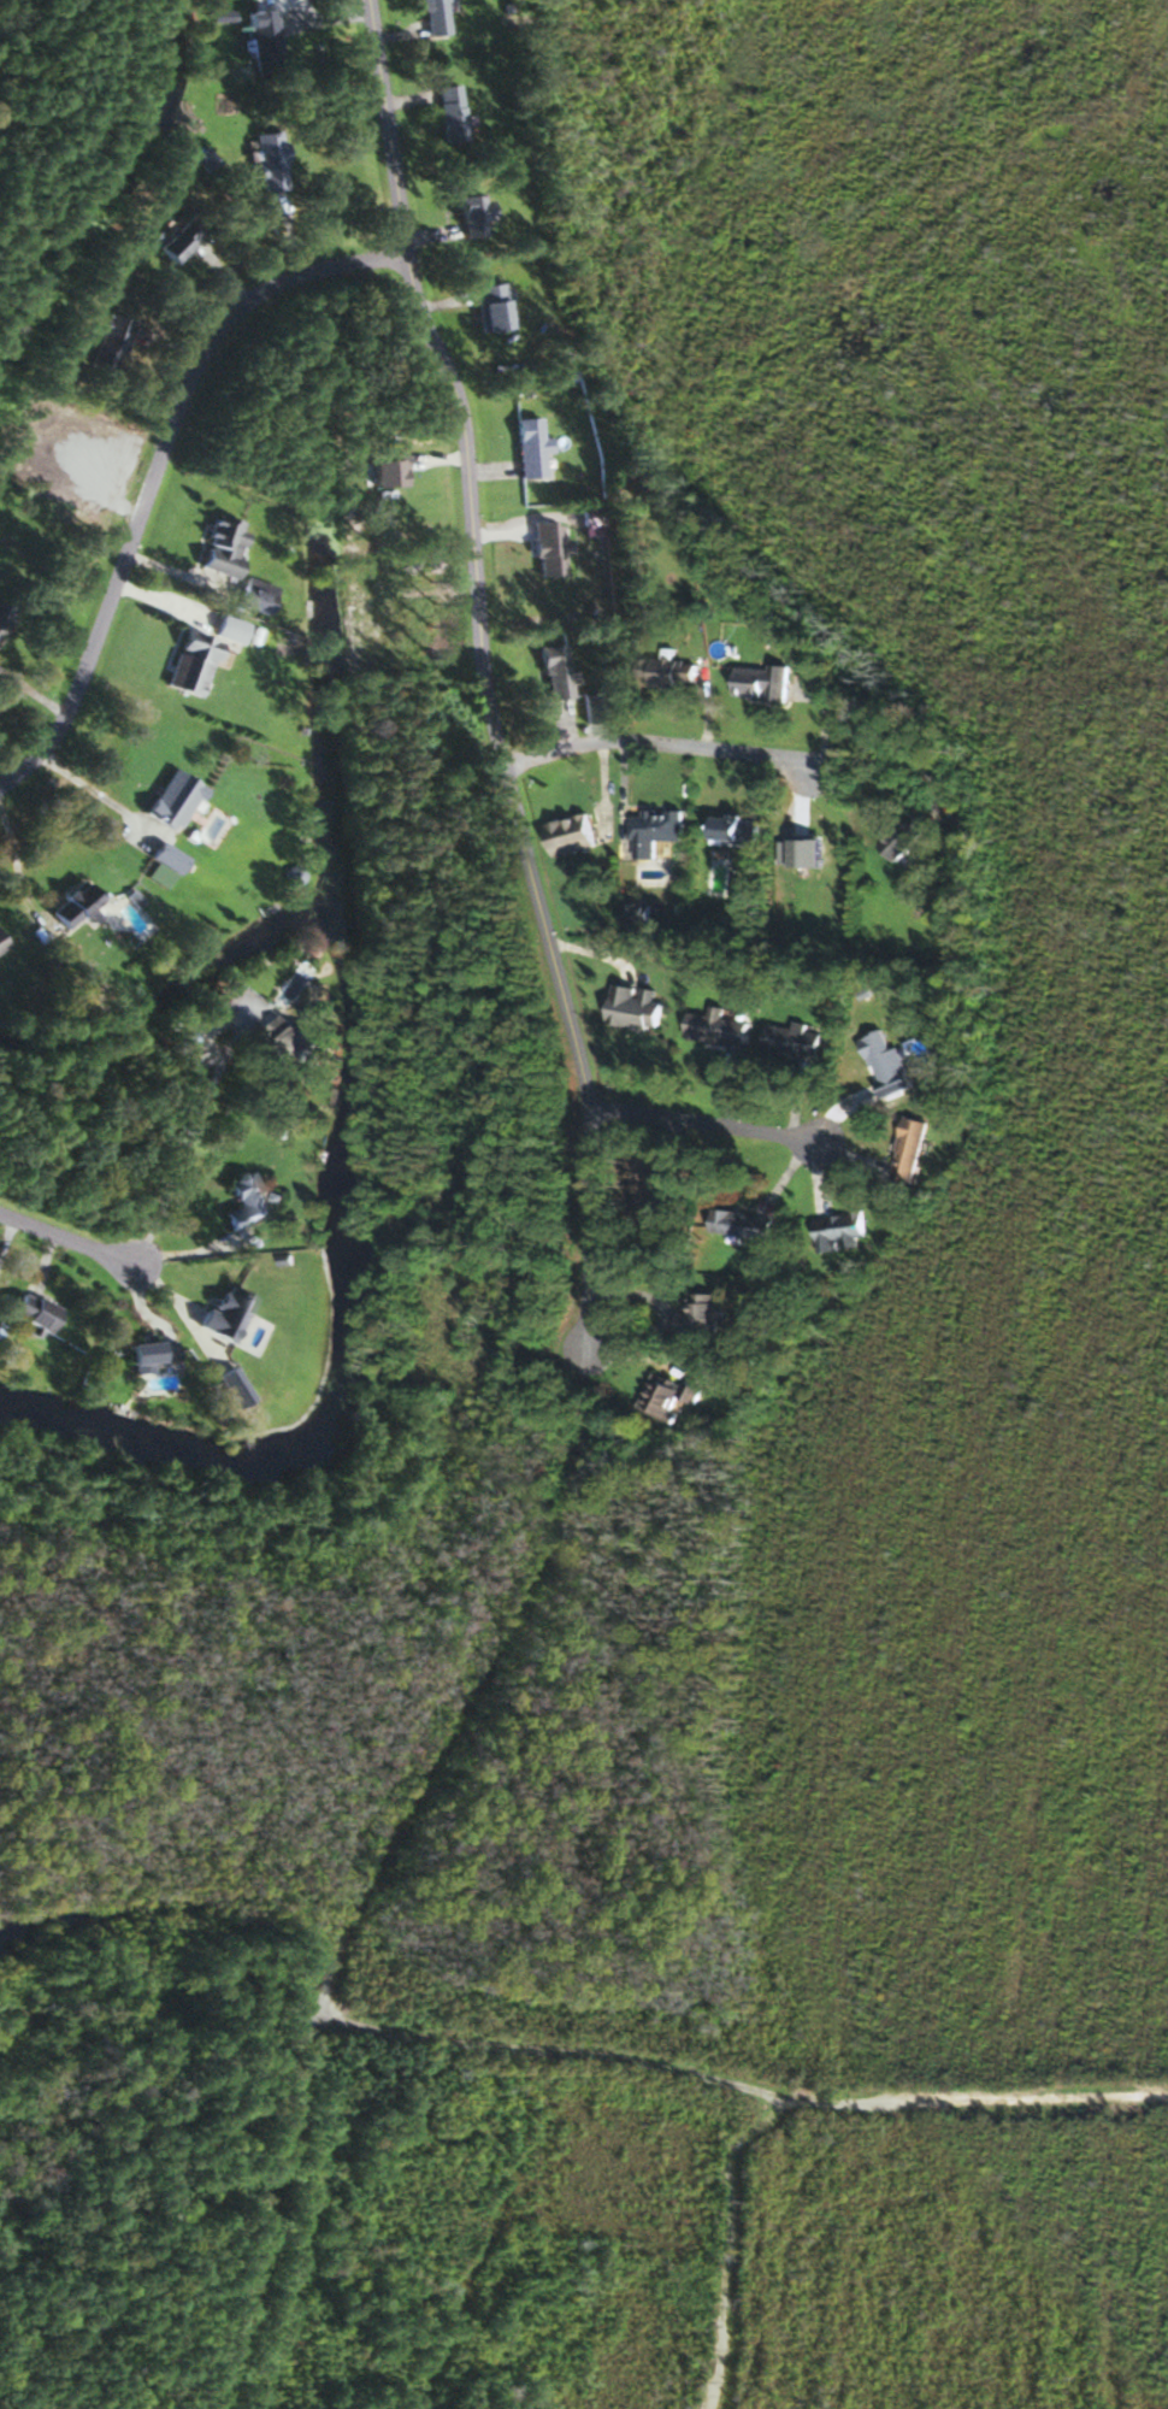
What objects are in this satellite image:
building: (432, 16)
building: (261, 42)
building: (448, 113)
building: (203, 160)
building: (267, 161)
building: (468, 216)
building: (172, 242)
building: (488, 307)
building: (107, 346)
building: (527, 448)
road: (152, 472)
building: (219, 547)
building: (2, 617)
road: (477, 656)
building: (188, 665)
building: (663, 671)
building: (553, 673)
building: (757, 683)
building: (590, 709)
road: (661, 750)
road: (92, 790)
building: (170, 800)
building: (732, 827)
building: (651, 830)
building: (567, 834)
building: (901, 836)
road: (13, 858)
building: (161, 865)
building: (70, 903)
building: (635, 913)
building: (1, 947)
building: (631, 1007)
building: (714, 1026)
building: (791, 1039)
building: (294, 1042)
building: (188, 1058)
road: (704, 1130)
road: (187, 1135)
building: (906, 1149)
building: (659, 1196)
building: (242, 1201)
building: (738, 1224)
building: (837, 1230)
road: (67, 1245)
building: (30, 1312)
building: (698, 1313)
building: (148, 1351)
building: (665, 1395)

